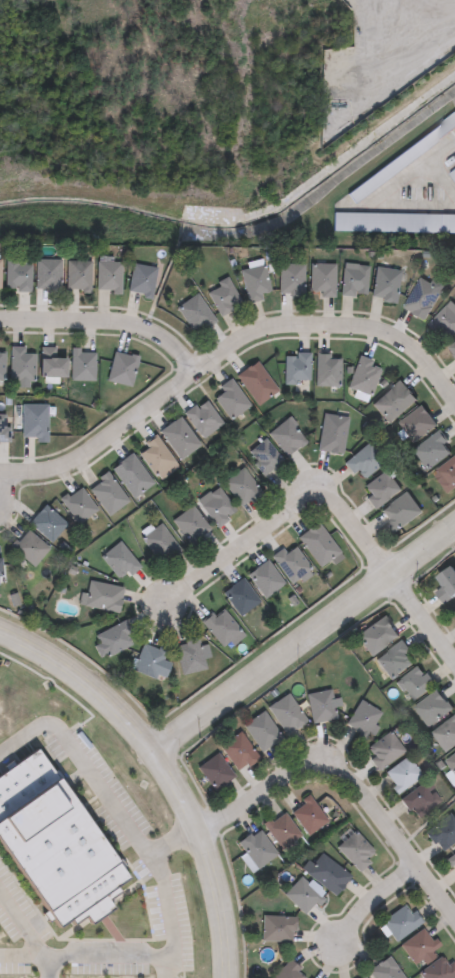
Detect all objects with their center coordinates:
park: (126, 121)
building: (402, 158)
building: (453, 174)
building: (393, 222)
building: (17, 275)
building: (47, 275)
building: (78, 275)
building: (108, 276)
building: (0, 278)
building: (290, 279)
building: (322, 279)
building: (141, 280)
building: (354, 280)
building: (254, 283)
building: (385, 284)
building: (222, 296)
building: (421, 298)
building: (194, 314)
building: (444, 321)
road: (109, 328)
building: (453, 348)
building: (1, 363)
building: (20, 363)
building: (51, 363)
building: (82, 365)
road: (224, 365)
building: (296, 367)
building: (122, 368)
building: (327, 370)
building: (364, 376)
building: (256, 383)
building: (230, 399)
building: (394, 402)
building: (203, 419)
building: (34, 421)
building: (416, 423)
building: (4, 428)
building: (332, 433)
building: (287, 437)
building: (179, 438)
building: (432, 450)
building: (263, 457)
building: (158, 459)
building: (364, 461)
building: (446, 474)
building: (132, 475)
building: (243, 487)
building: (380, 489)
building: (107, 493)
building: (77, 504)
building: (216, 506)
building: (400, 511)
building: (47, 523)
building: (191, 525)
road: (282, 525)
building: (159, 542)
building: (319, 545)
building: (29, 547)
building: (119, 561)
building: (291, 562)
building: (0, 563)
building: (265, 579)
building: (446, 584)
building: (102, 595)
building: (240, 596)
building: (454, 612)
road: (421, 621)
building: (222, 627)
building: (376, 635)
road: (303, 638)
building: (112, 639)
building: (190, 655)
building: (395, 659)
building: (151, 661)
building: (414, 682)
building: (320, 705)
building: (432, 708)
building: (286, 713)
building: (363, 720)
building: (261, 731)
building: (445, 733)
building: (384, 750)
building: (238, 752)
building: (451, 762)
road: (79, 764)
road: (164, 770)
building: (214, 772)
building: (402, 774)
road: (349, 778)
building: (420, 799)
building: (307, 815)
building: (281, 829)
building: (442, 832)
road: (169, 842)
building: (53, 846)
building: (256, 849)
building: (355, 850)
building: (452, 860)
building: (327, 874)
building: (302, 896)
road: (376, 908)
building: (400, 922)
building: (277, 928)
building: (419, 947)
road: (118, 958)
road: (46, 968)
road: (162, 968)
building: (438, 969)
building: (384, 970)
building: (289, 971)
building: (361, 977)

